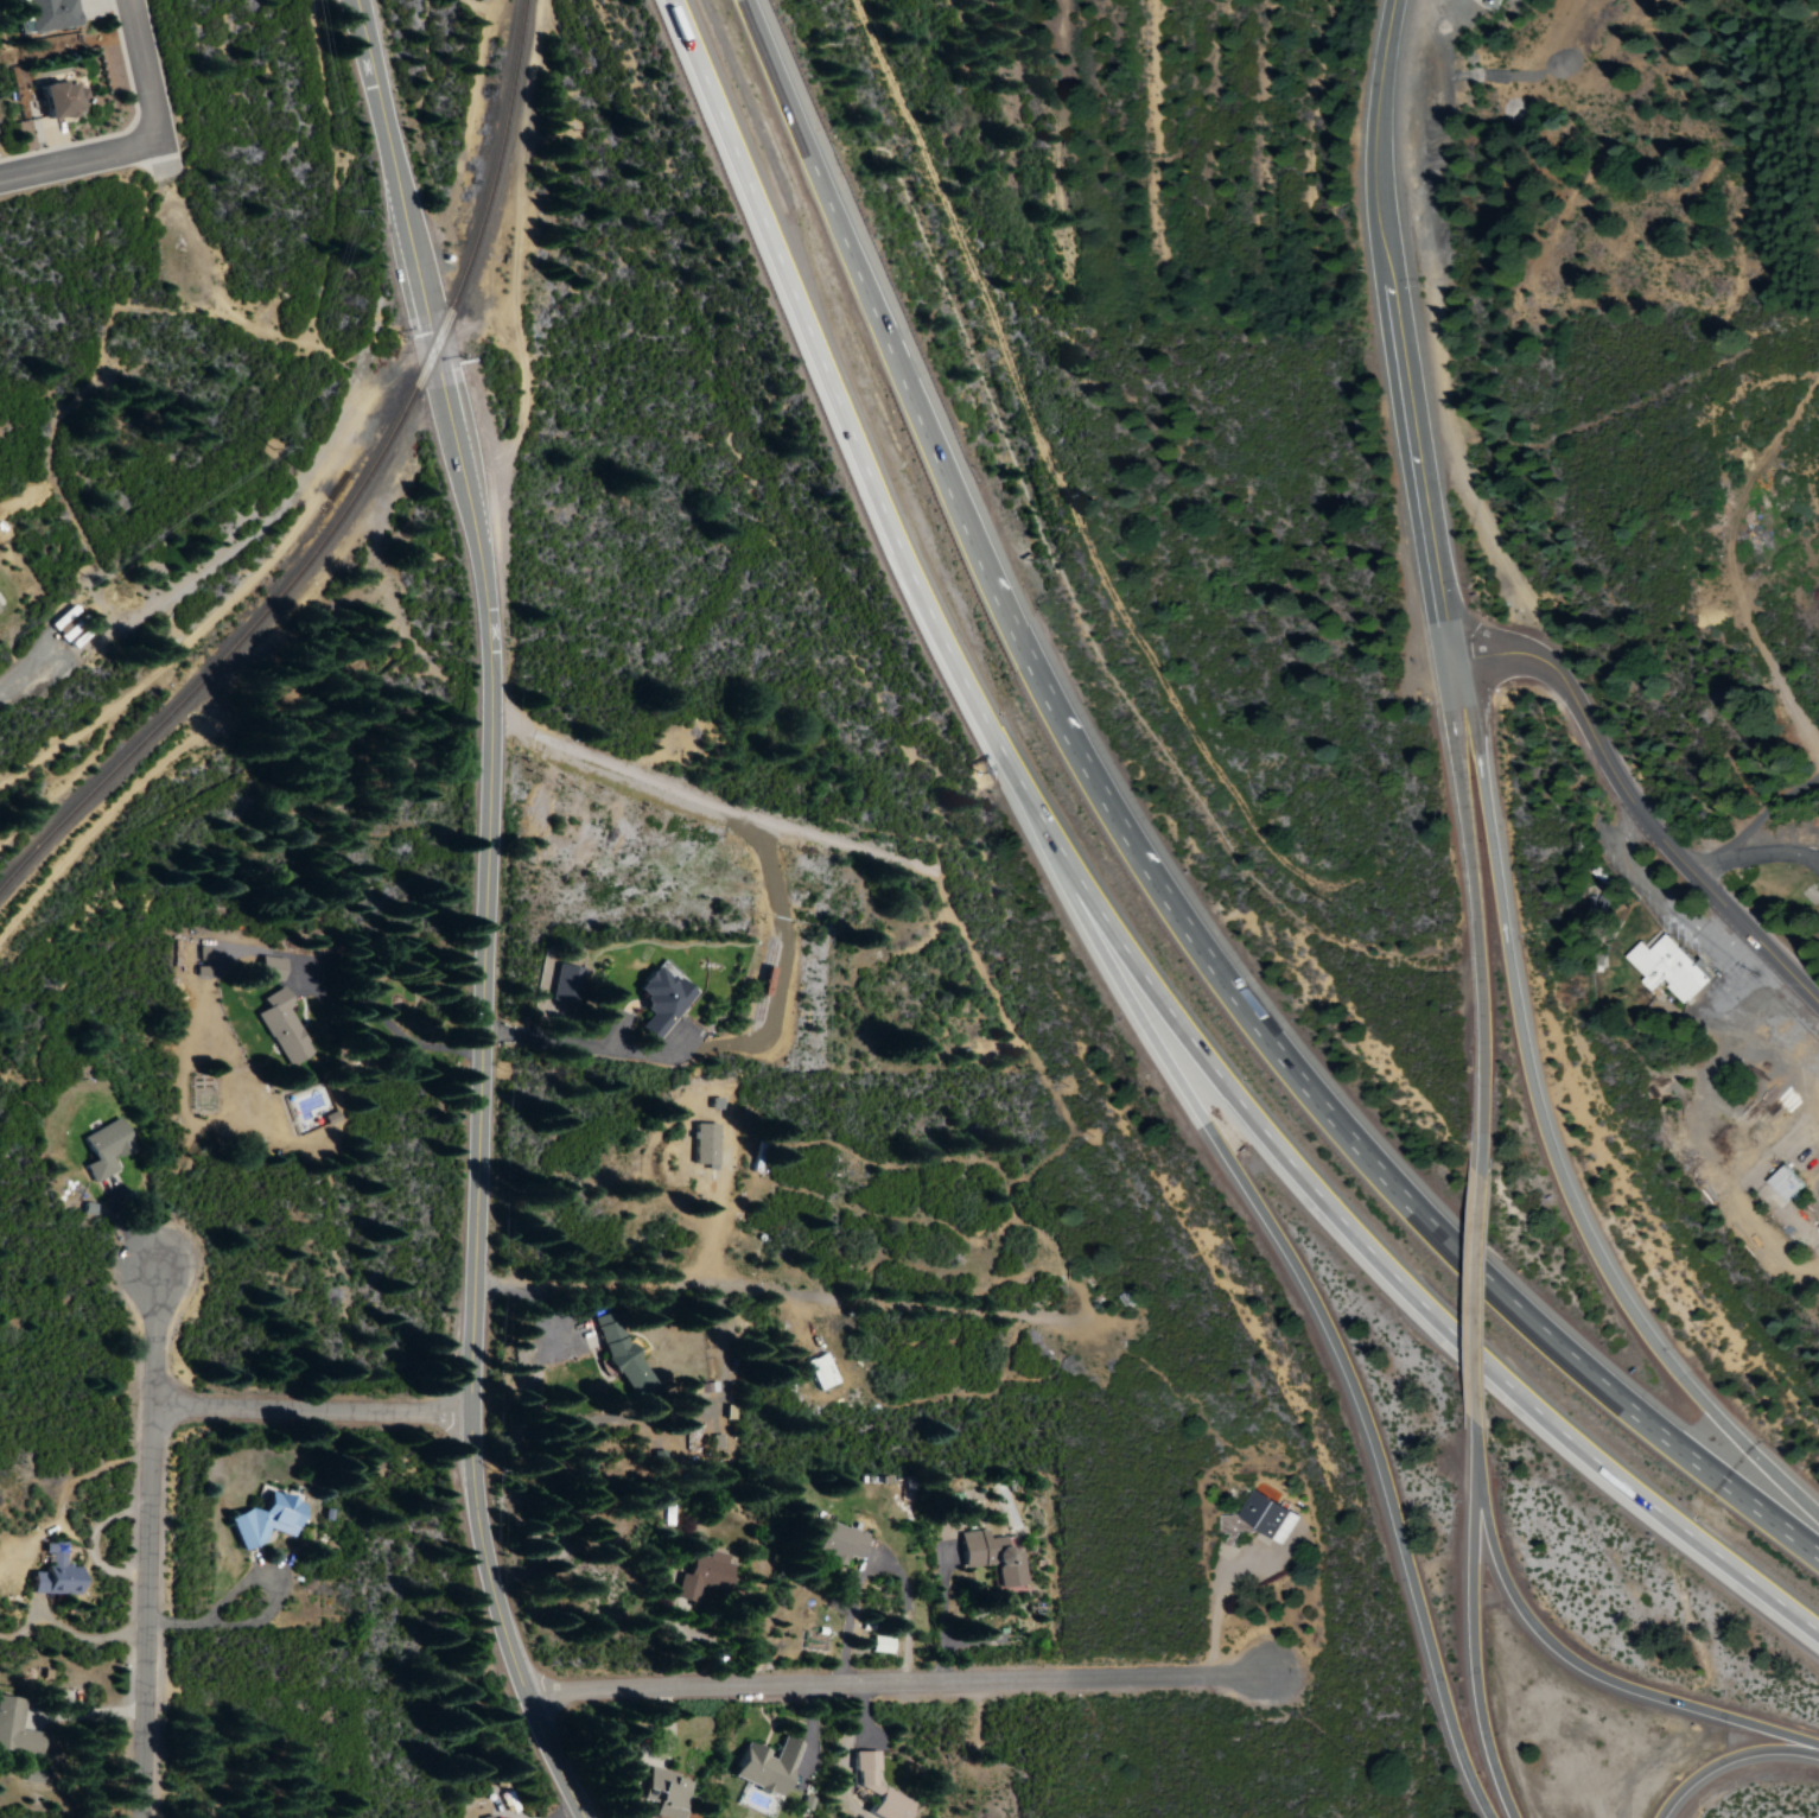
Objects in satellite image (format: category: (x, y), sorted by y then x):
building: (1489, 4)
building: (49, 14)
building: (56, 98)
road: (158, 98)
road: (47, 167)
road: (1389, 330)
railway: (345, 495)
road: (268, 528)
road: (710, 802)
road: (1632, 811)
road: (1144, 878)
road: (1468, 901)
building: (1595, 905)
road: (484, 911)
road: (1109, 917)
building: (267, 968)
building: (1671, 968)
building: (564, 983)
railway: (764, 983)
building: (657, 1000)
building: (280, 1026)
road: (1534, 1136)
building: (701, 1144)
building: (102, 1148)
building: (1782, 1183)
road: (1304, 1276)
road: (1480, 1283)
building: (621, 1358)
building: (820, 1371)
road: (313, 1410)
road: (1478, 1444)
building: (1265, 1517)
building: (261, 1519)
building: (834, 1542)
road: (145, 1544)
building: (990, 1557)
building: (51, 1574)
building: (704, 1576)
building: (879, 1645)
road: (1478, 1646)
road: (1592, 1668)
road: (897, 1680)
building: (15, 1730)
road: (1732, 1761)
building: (762, 1767)
building: (873, 1787)
building: (663, 1792)

